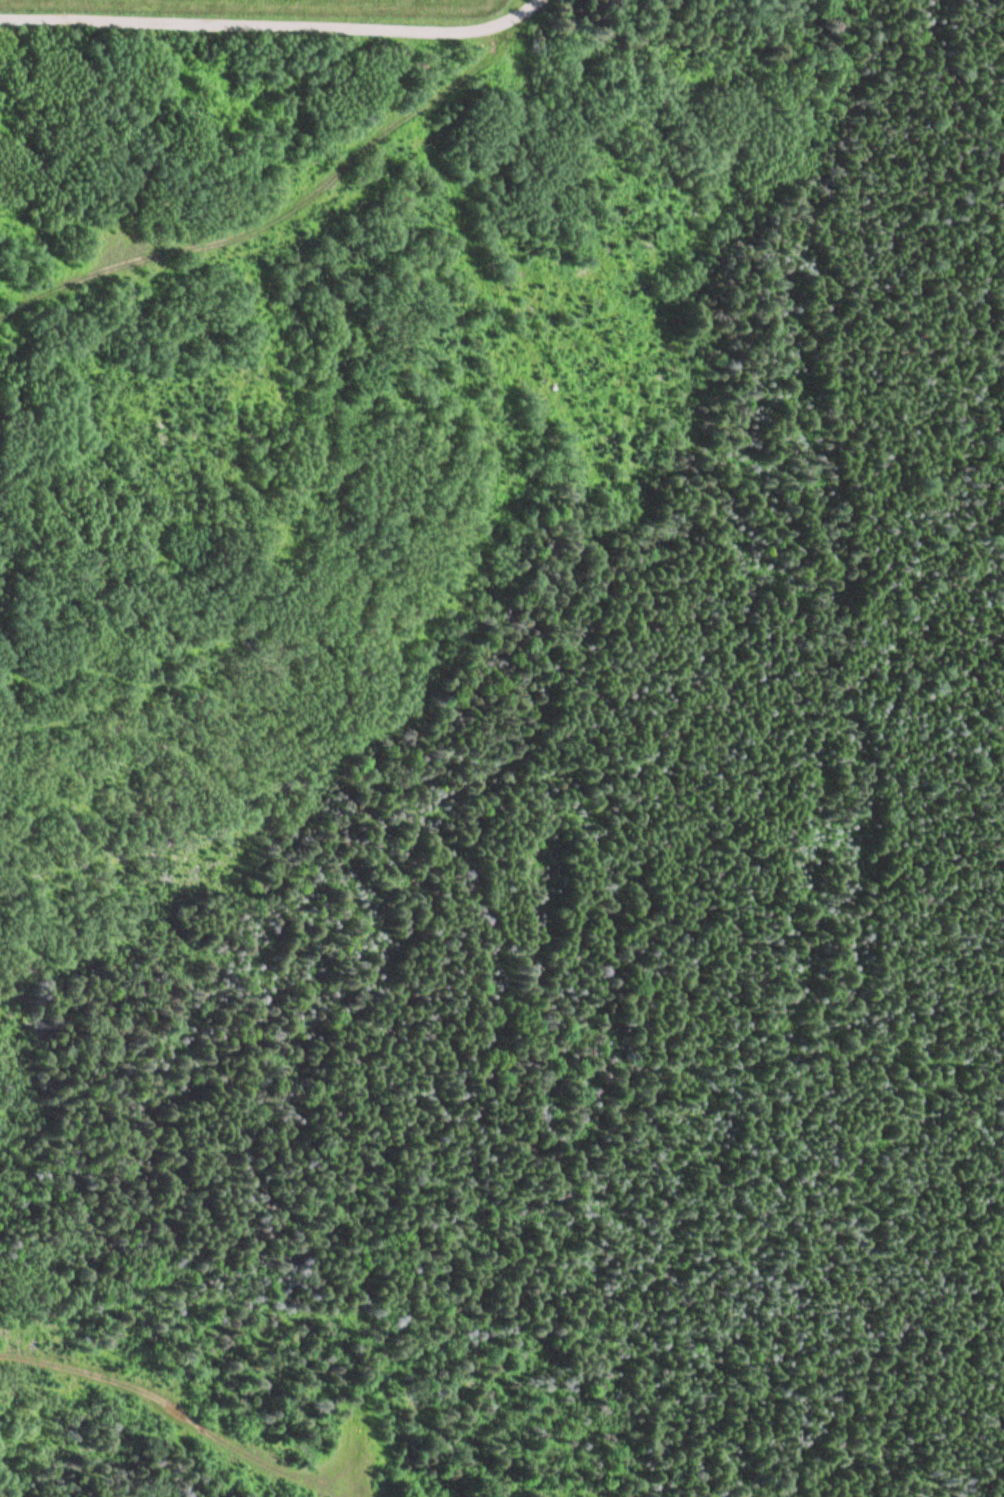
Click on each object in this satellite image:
road: (271, 27)
road: (275, 211)

